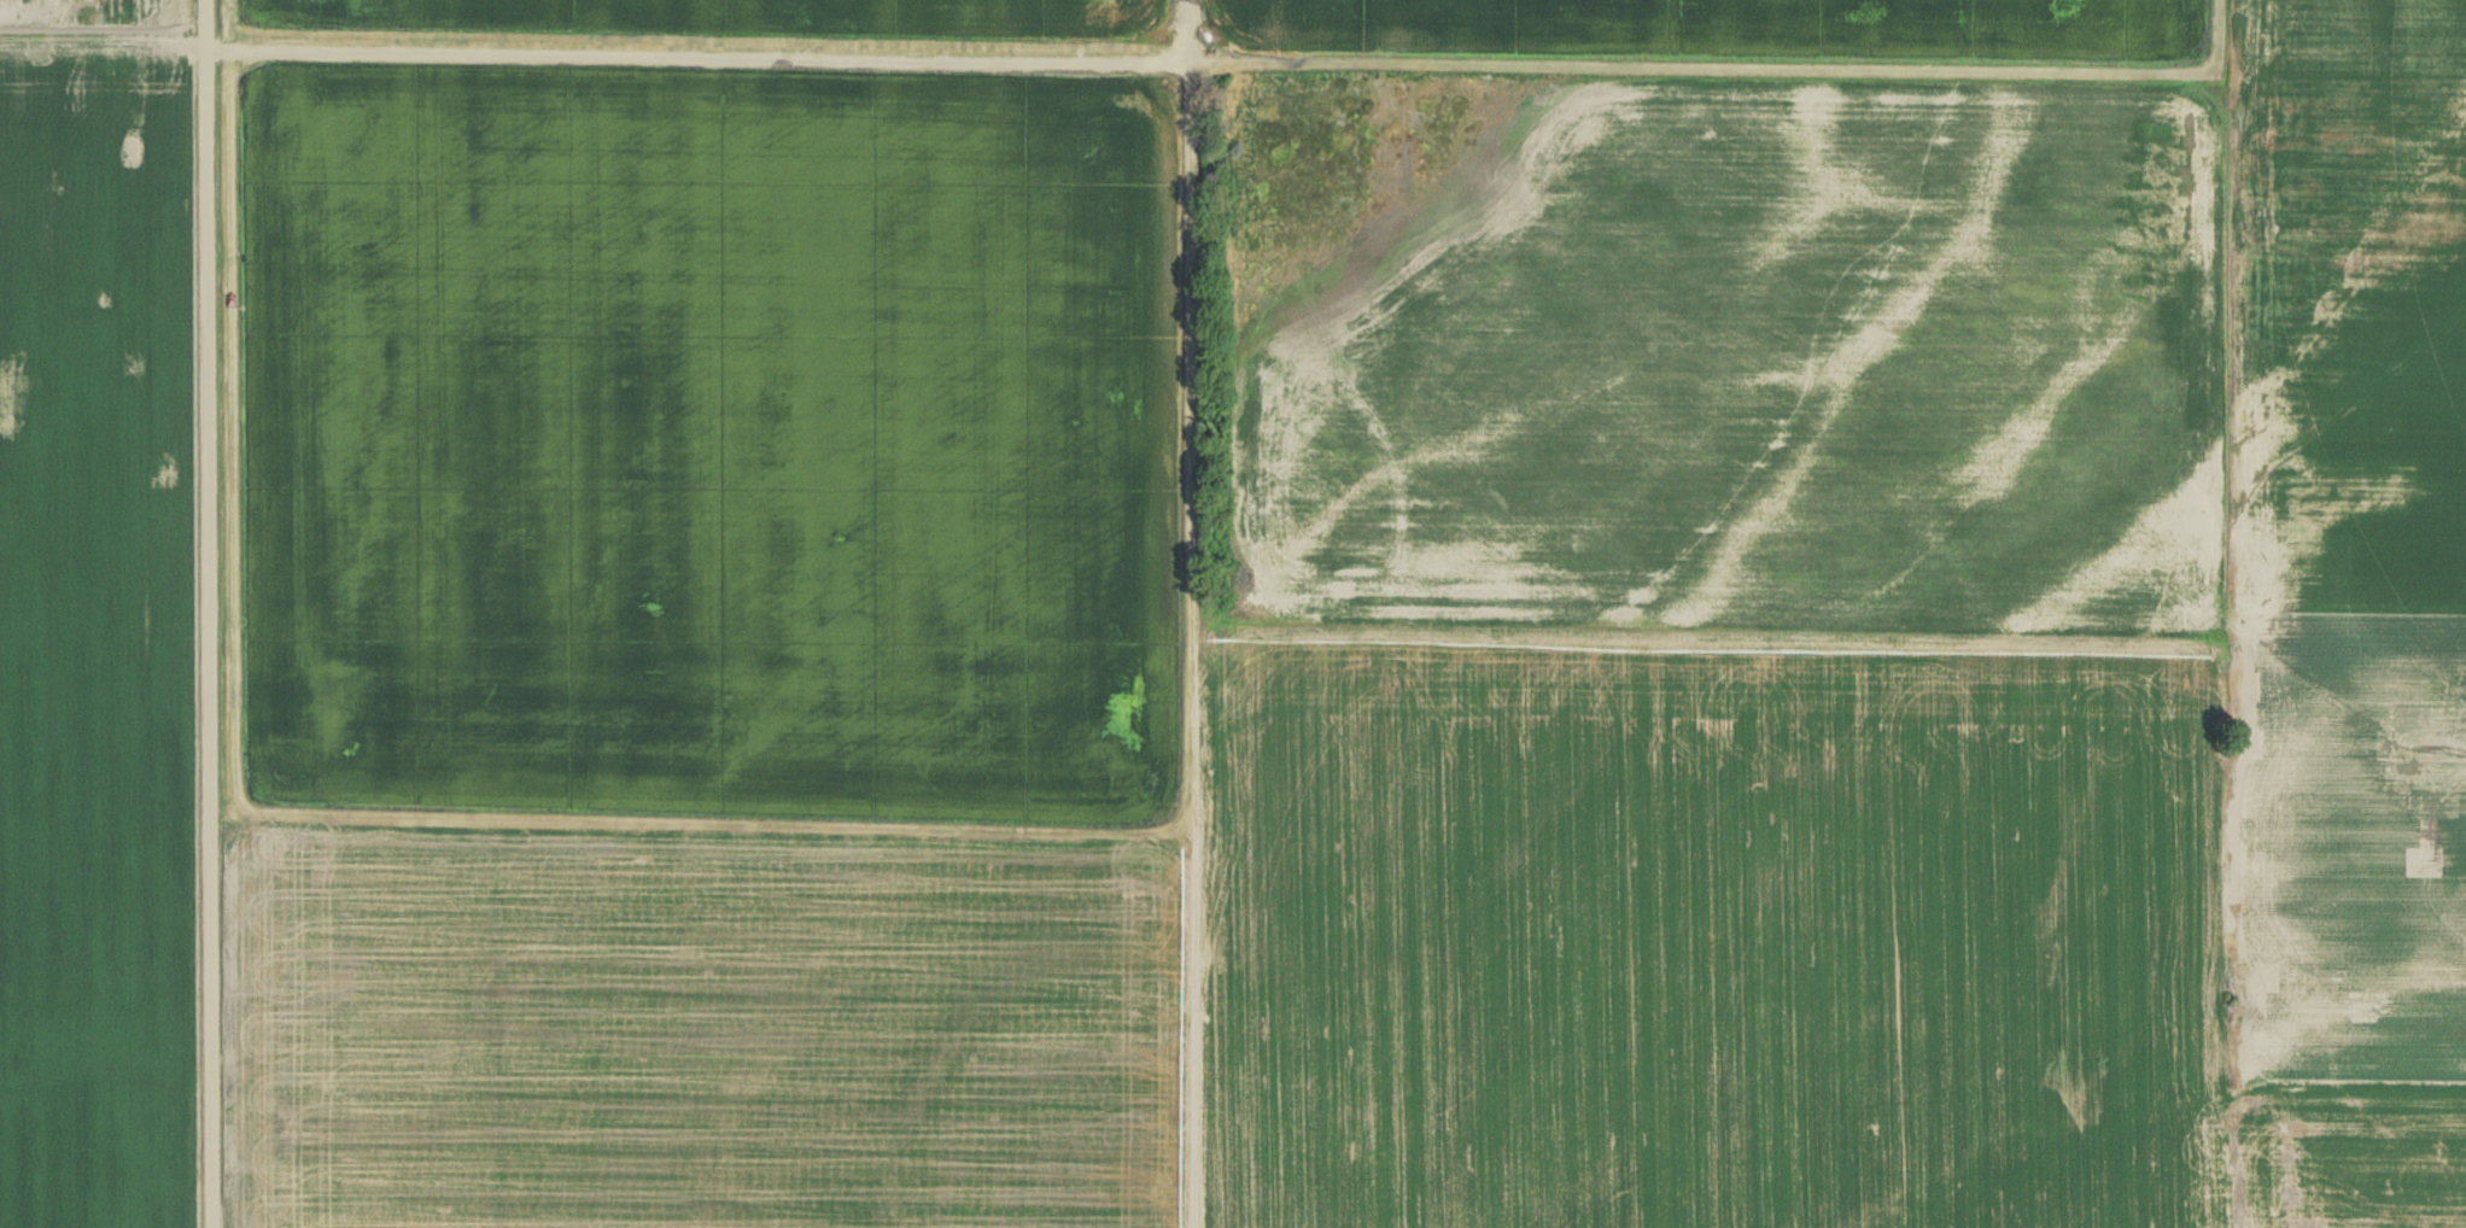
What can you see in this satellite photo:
road: (106, 53)
road: (216, 613)
road: (1192, 614)

